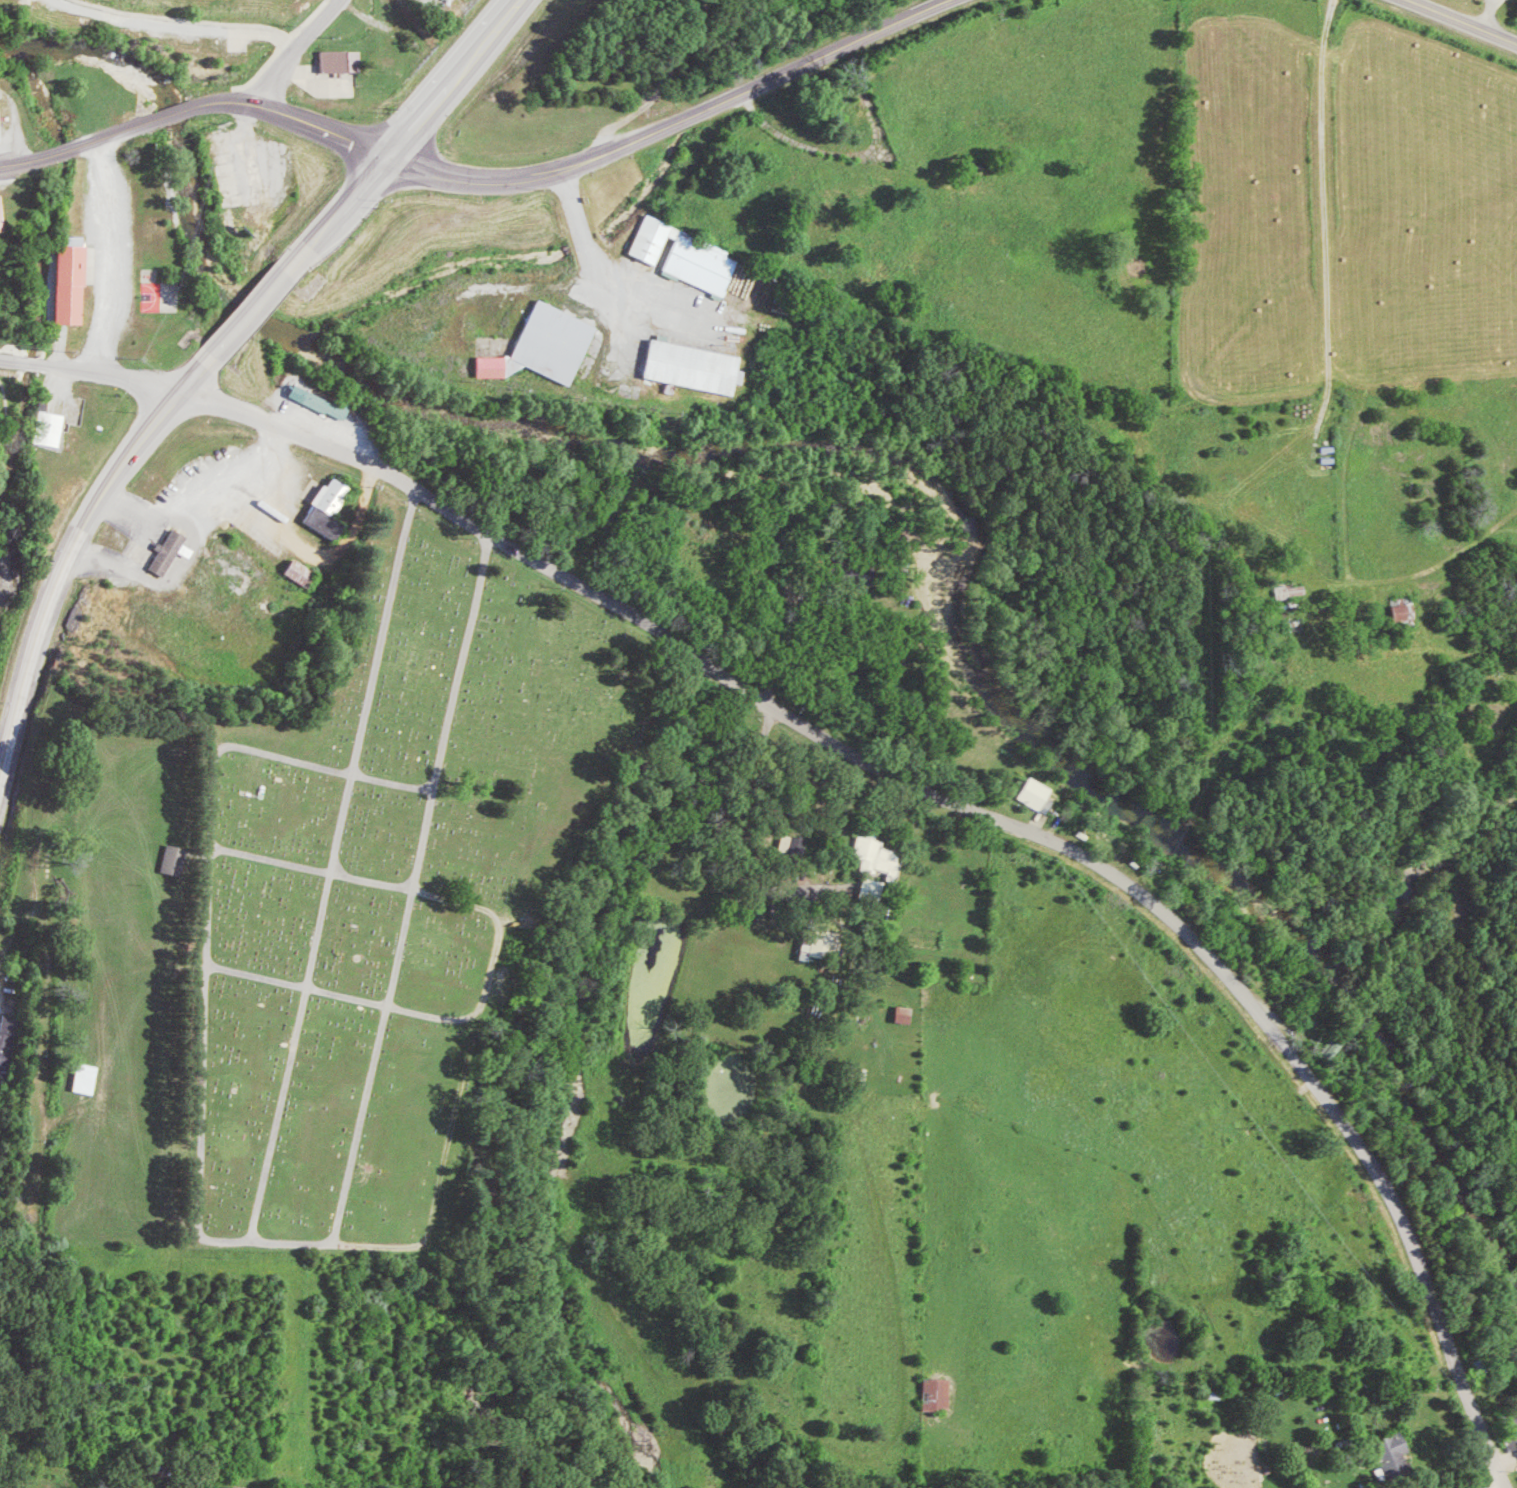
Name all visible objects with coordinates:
road: (1486, 15)
road: (1459, 22)
road: (296, 50)
building: (343, 60)
road: (179, 119)
road: (676, 120)
road: (306, 122)
building: (0, 136)
road: (415, 138)
road: (792, 140)
road: (73, 153)
building: (2, 214)
building: (76, 240)
road: (586, 244)
building: (688, 255)
road: (110, 257)
road: (1324, 271)
building: (71, 284)
building: (743, 284)
road: (252, 316)
building: (554, 342)
building: (491, 366)
building: (695, 367)
road: (96, 370)
building: (321, 402)
building: (51, 429)
building: (330, 509)
park: (11, 515)
building: (175, 552)
building: (304, 572)
road: (67, 587)
building: (1294, 591)
building: (1405, 600)
building: (1406, 613)
building: (1036, 795)
road: (972, 815)
building: (878, 855)
building: (175, 860)
building: (871, 886)
park: (377, 893)
road: (883, 923)
building: (821, 944)
building: (905, 1014)
building: (9, 1045)
building: (87, 1078)
building: (937, 1393)
building: (1512, 1424)
building: (1394, 1448)
building: (238, 1487)

